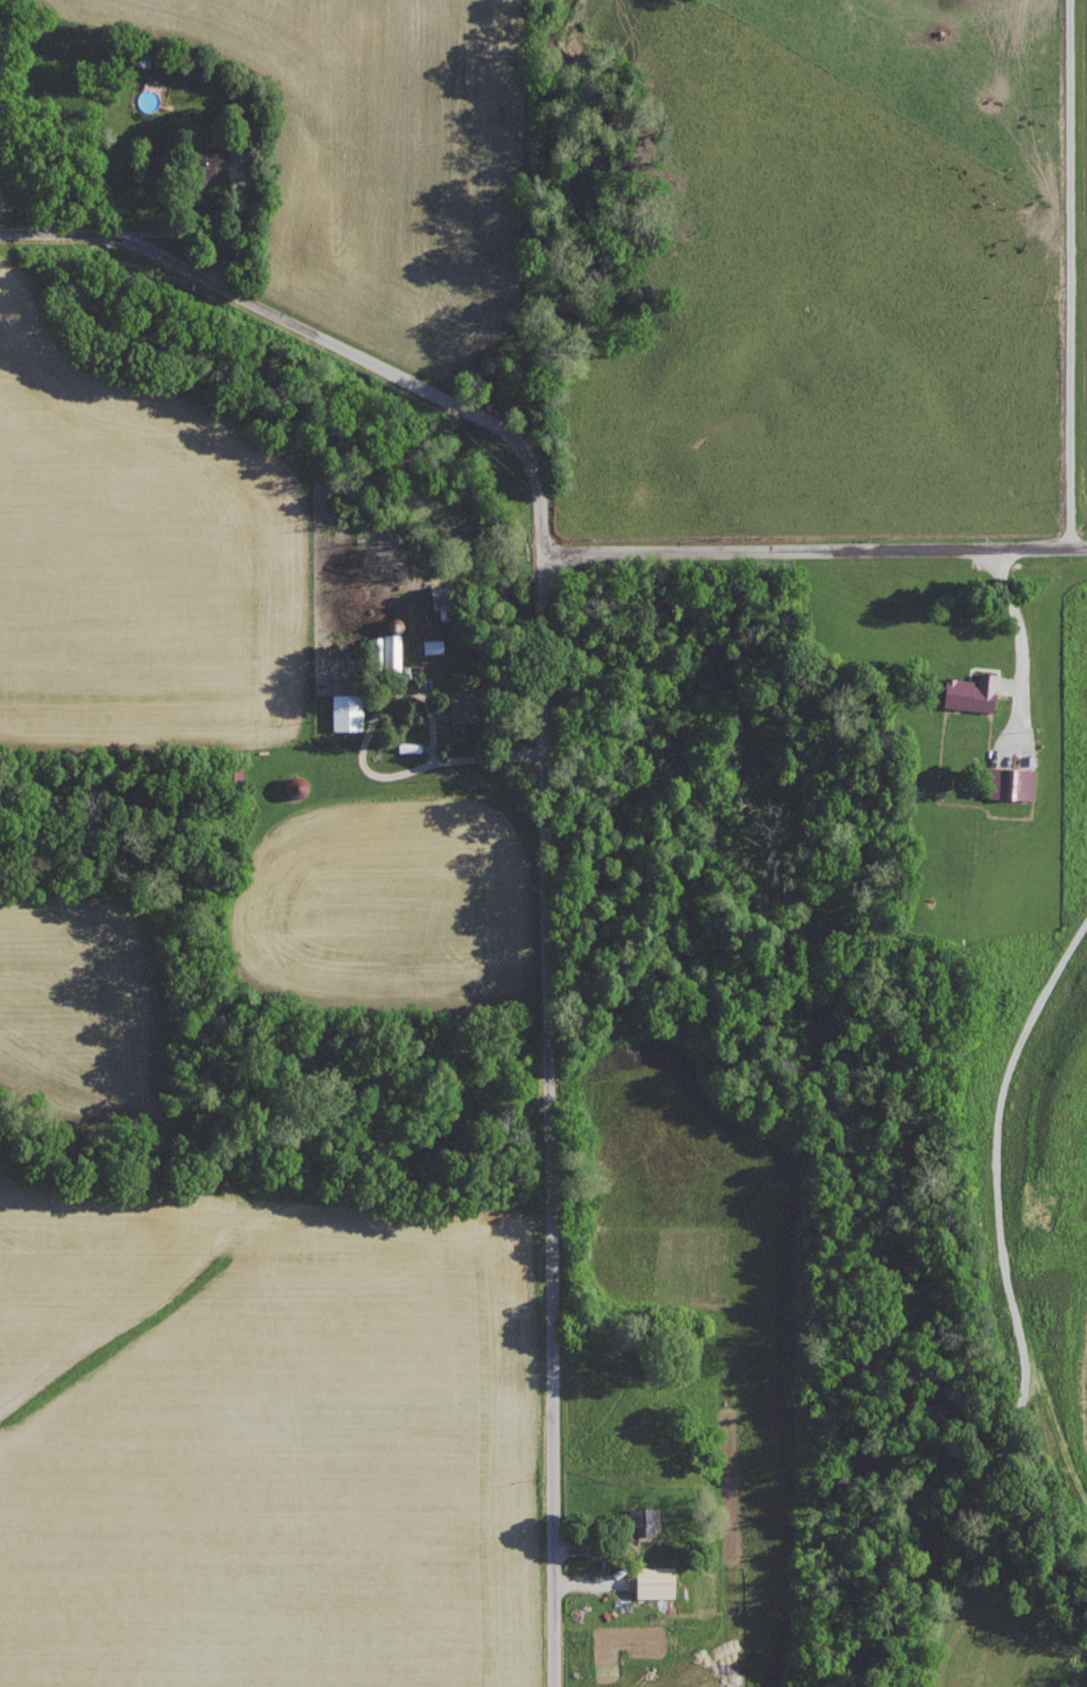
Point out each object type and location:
building: (215, 153)
road: (1080, 272)
road: (323, 333)
road: (816, 552)
road: (1016, 605)
building: (396, 651)
building: (975, 693)
building: (466, 705)
building: (351, 712)
road: (365, 767)
building: (1013, 783)
road: (550, 1122)
road: (997, 1202)
building: (646, 1520)
building: (659, 1581)

